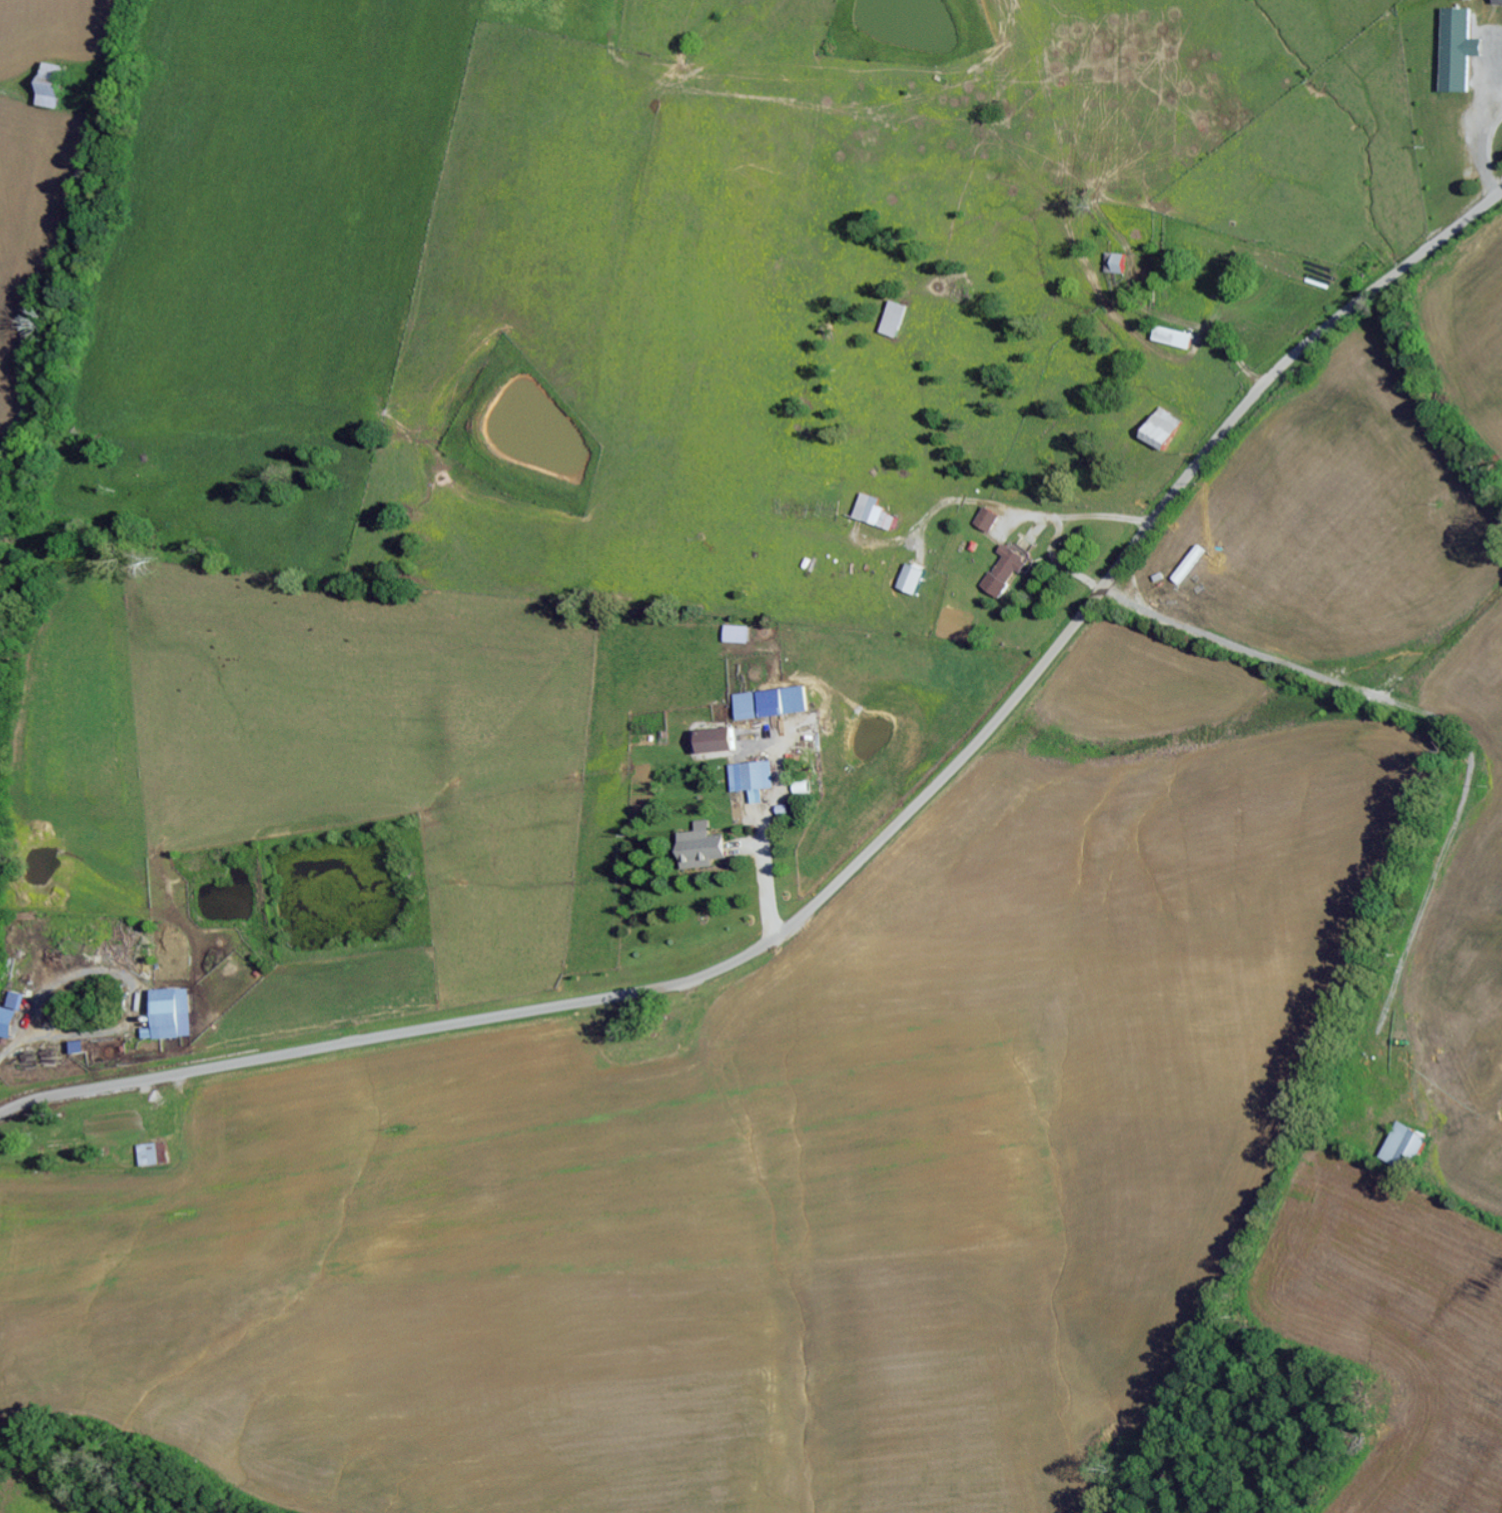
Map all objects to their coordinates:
building: (1453, 51)
building: (57, 86)
building: (1115, 264)
building: (893, 320)
building: (1171, 337)
building: (1158, 428)
building: (874, 514)
building: (985, 520)
building: (1003, 571)
building: (909, 580)
building: (741, 635)
building: (790, 703)
building: (751, 707)
building: (722, 742)
building: (755, 780)
building: (705, 848)
road: (866, 856)
building: (18, 1002)
building: (173, 1016)
building: (8, 1023)
building: (82, 1048)
building: (1402, 1145)
building: (153, 1155)

